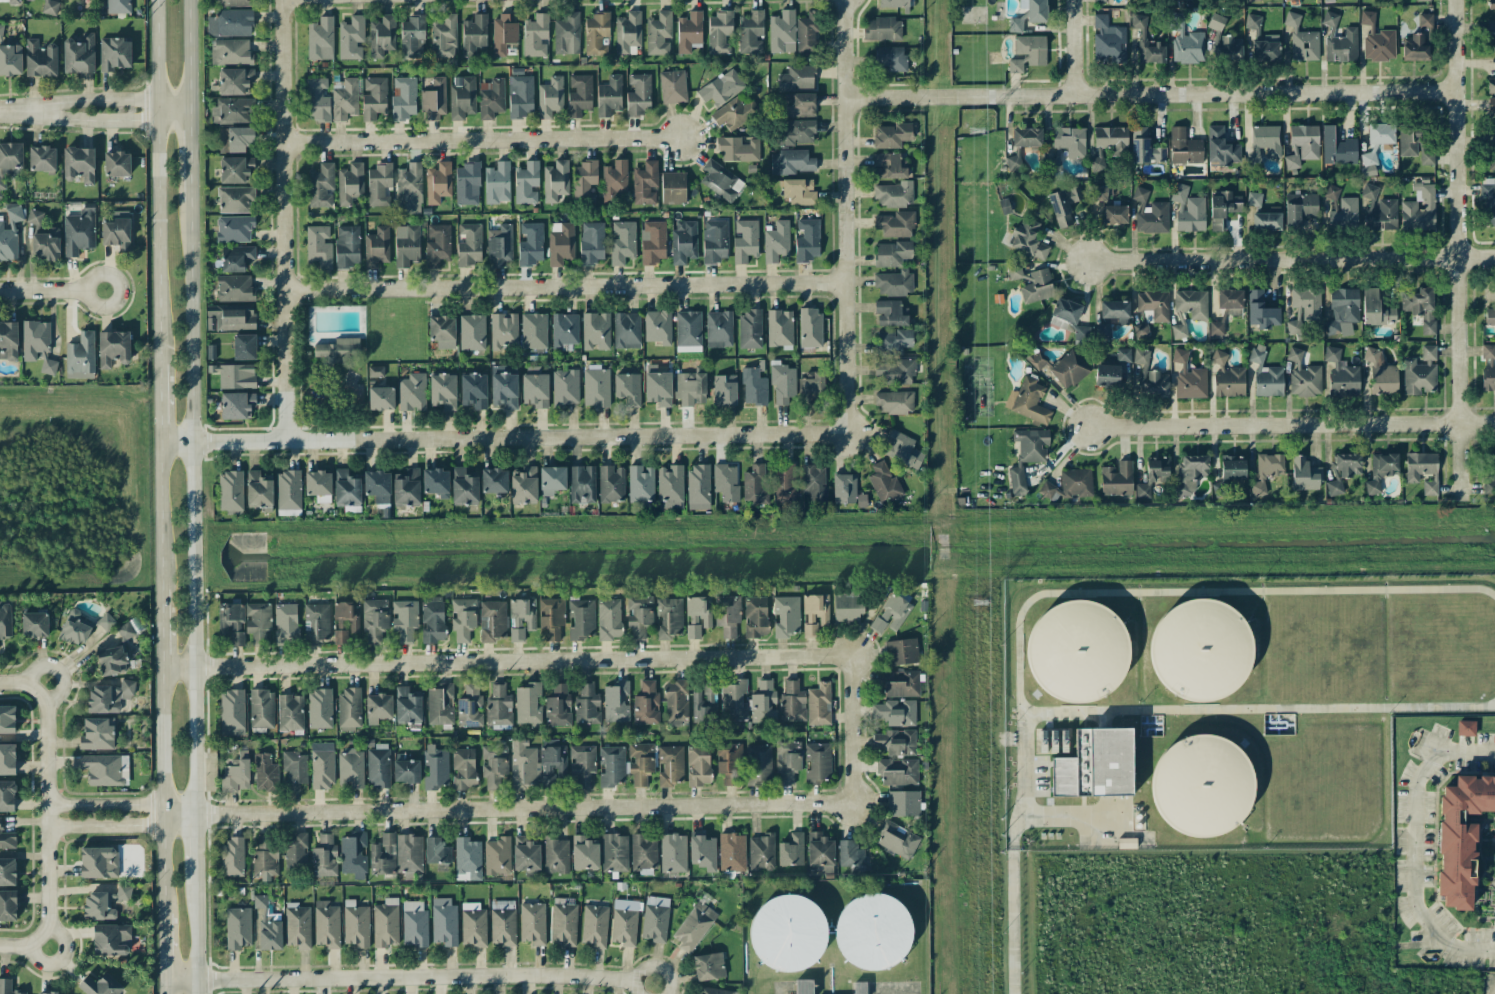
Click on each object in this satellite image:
building: (1099, 0)
building: (1174, 0)
building: (1423, 0)
building: (1252, 1)
building: (13, 2)
building: (231, 3)
building: (894, 3)
building: (1491, 4)
building: (118, 6)
building: (49, 7)
building: (1036, 11)
building: (1425, 20)
building: (1216, 21)
building: (1330, 21)
building: (1254, 22)
building: (230, 23)
building: (1015, 24)
building: (882, 29)
building: (1, 30)
building: (1491, 30)
building: (627, 32)
building: (689, 32)
building: (719, 32)
building: (751, 32)
building: (782, 32)
building: (503, 33)
building: (658, 33)
building: (473, 34)
building: (566, 34)
building: (596, 34)
building: (806, 35)
building: (381, 36)
building: (443, 36)
building: (535, 36)
building: (412, 37)
building: (351, 38)
building: (1107, 38)
building: (320, 39)
building: (1301, 40)
building: (1376, 40)
building: (1147, 43)
building: (1185, 43)
building: (1341, 46)
road: (1076, 47)
building: (1414, 47)
building: (1229, 48)
building: (1266, 48)
building: (230, 52)
building: (1027, 53)
building: (79, 54)
building: (114, 54)
building: (890, 58)
building: (10, 59)
building: (40, 59)
road: (188, 60)
building: (796, 78)
building: (235, 81)
building: (1491, 85)
building: (672, 86)
building: (721, 88)
road: (1151, 94)
building: (579, 95)
building: (638, 95)
building: (520, 96)
building: (609, 96)
building: (461, 97)
building: (550, 97)
building: (373, 98)
building: (403, 98)
building: (491, 98)
building: (316, 99)
building: (434, 99)
building: (344, 100)
road: (97, 101)
building: (799, 104)
building: (1491, 106)
road: (3, 111)
building: (231, 111)
building: (730, 114)
road: (97, 120)
power tower: (976, 132)
building: (798, 133)
building: (1380, 133)
building: (891, 135)
building: (1026, 137)
road: (482, 138)
building: (235, 139)
building: (1112, 139)
building: (1267, 139)
building: (1070, 141)
building: (1407, 142)
building: (1302, 145)
building: (1145, 147)
building: (1184, 147)
building: (1221, 147)
building: (1337, 147)
building: (738, 149)
building: (1426, 154)
building: (42, 158)
road: (189, 160)
building: (10, 161)
building: (792, 162)
building: (1013, 162)
building: (1491, 162)
building: (1367, 163)
building: (79, 164)
building: (116, 164)
building: (1254, 164)
building: (890, 166)
building: (236, 169)
building: (614, 179)
building: (718, 180)
building: (555, 181)
building: (584, 181)
road: (157, 182)
building: (438, 182)
building: (349, 183)
building: (497, 183)
building: (526, 183)
building: (645, 183)
building: (378, 184)
building: (467, 184)
building: (320, 185)
building: (673, 188)
building: (409, 189)
building: (799, 191)
building: (1099, 193)
building: (1369, 193)
building: (894, 194)
building: (236, 199)
building: (1253, 199)
building: (1488, 200)
building: (1064, 204)
building: (1299, 208)
building: (1419, 208)
building: (1188, 209)
building: (1222, 209)
building: (1340, 209)
building: (1150, 213)
building: (1114, 214)
building: (1382, 216)
road: (846, 217)
building: (35, 219)
road: (288, 219)
building: (1266, 221)
building: (234, 228)
building: (78, 232)
building: (116, 233)
building: (1027, 239)
building: (714, 240)
building: (745, 240)
building: (807, 240)
building: (776, 241)
building: (591, 242)
building: (622, 242)
building: (653, 242)
building: (683, 242)
building: (7, 243)
building: (560, 243)
building: (46, 244)
building: (530, 244)
building: (437, 245)
building: (469, 245)
building: (500, 245)
building: (318, 246)
building: (347, 246)
building: (406, 246)
building: (376, 247)
road: (1457, 252)
building: (892, 253)
building: (236, 257)
road: (1291, 263)
building: (894, 283)
building: (1030, 283)
road: (568, 286)
building: (233, 288)
road: (51, 291)
building: (1191, 303)
building: (1153, 306)
building: (1420, 306)
building: (1303, 309)
building: (1342, 309)
building: (1375, 309)
building: (1115, 311)
building: (1261, 311)
building: (890, 313)
building: (1064, 313)
building: (1490, 317)
building: (229, 319)
building: (657, 327)
building: (779, 327)
building: (809, 328)
building: (718, 329)
building: (750, 329)
building: (534, 330)
building: (626, 330)
building: (688, 330)
building: (1140, 330)
building: (1216, 330)
building: (442, 331)
building: (503, 331)
building: (564, 331)
building: (595, 331)
building: (1102, 331)
building: (1179, 331)
building: (471, 332)
building: (8, 340)
building: (893, 341)
building: (37, 345)
building: (244, 346)
building: (113, 348)
building: (336, 350)
building: (1123, 354)
building: (80, 356)
building: (1141, 356)
building: (1061, 367)
building: (1488, 367)
building: (655, 368)
building: (895, 371)
building: (1420, 372)
building: (1107, 373)
building: (1381, 373)
building: (1265, 374)
building: (1342, 374)
building: (236, 376)
building: (1303, 376)
building: (1188, 377)
building: (1227, 377)
building: (811, 383)
building: (1155, 383)
building: (782, 384)
building: (503, 386)
building: (565, 387)
building: (753, 387)
building: (535, 388)
building: (627, 388)
building: (658, 388)
building: (689, 388)
building: (473, 390)
building: (724, 390)
building: (443, 391)
building: (412, 392)
building: (381, 398)
building: (1027, 401)
building: (894, 402)
road: (159, 405)
building: (237, 405)
road: (1293, 425)
road: (503, 438)
building: (1031, 444)
building: (904, 449)
building: (1346, 465)
building: (1420, 466)
building: (1233, 467)
building: (1157, 470)
building: (1381, 470)
building: (1266, 471)
building: (1190, 473)
building: (1304, 474)
building: (1489, 474)
building: (1116, 478)
building: (1016, 479)
building: (494, 480)
building: (551, 480)
building: (435, 481)
building: (814, 481)
building: (726, 482)
building: (317, 483)
building: (784, 483)
building: (884, 483)
building: (1070, 483)
building: (582, 484)
building: (611, 484)
building: (640, 484)
building: (755, 484)
building: (523, 485)
building: (377, 486)
building: (464, 486)
building: (698, 486)
building: (670, 487)
building: (1334, 487)
building: (1430, 487)
building: (346, 488)
building: (406, 488)
building: (258, 489)
building: (230, 490)
building: (847, 490)
building: (1141, 490)
building: (288, 491)
road: (193, 506)
road: (160, 516)
road: (1135, 592)
power tower: (977, 604)
building: (848, 608)
building: (814, 613)
building: (891, 613)
building: (727, 614)
building: (638, 615)
building: (697, 615)
building: (755, 616)
building: (785, 616)
building: (551, 617)
building: (463, 618)
building: (521, 618)
building: (668, 618)
building: (5, 619)
building: (374, 619)
building: (404, 619)
building: (432, 619)
building: (580, 619)
building: (608, 619)
building: (345, 620)
building: (492, 620)
building: (105, 622)
building: (231, 622)
building: (257, 622)
building: (316, 623)
building: (34, 624)
building: (285, 624)
road: (161, 627)
building: (75, 628)
building: (128, 628)
building: (1196, 648)
building: (901, 651)
building: (1077, 651)
building: (112, 661)
road: (505, 662)
road: (23, 680)
building: (900, 683)
building: (109, 696)
building: (704, 698)
building: (676, 700)
building: (733, 700)
building: (616, 702)
building: (763, 702)
building: (792, 702)
building: (645, 703)
building: (440, 704)
building: (528, 704)
building: (819, 704)
building: (407, 705)
building: (586, 705)
building: (470, 706)
building: (498, 706)
building: (558, 706)
building: (378, 707)
building: (261, 708)
building: (319, 708)
building: (349, 708)
road: (1257, 710)
building: (232, 712)
building: (290, 712)
building: (895, 712)
building: (7, 719)
building: (1465, 728)
road: (851, 731)
building: (97, 734)
road: (161, 736)
building: (896, 742)
building: (7, 759)
building: (552, 760)
building: (787, 761)
building: (728, 762)
building: (640, 763)
building: (817, 763)
building: (523, 764)
building: (582, 764)
building: (759, 764)
building: (1095, 764)
building: (698, 765)
building: (378, 766)
building: (611, 766)
building: (670, 766)
building: (322, 767)
building: (463, 768)
building: (295, 769)
building: (350, 769)
building: (436, 769)
building: (406, 771)
building: (897, 771)
building: (264, 772)
building: (493, 772)
building: (236, 773)
building: (6, 796)
building: (903, 803)
road: (105, 804)
road: (179, 810)
road: (524, 810)
road: (48, 812)
road: (163, 817)
road: (180, 822)
road: (106, 829)
building: (1460, 836)
building: (7, 839)
building: (897, 839)
road: (1414, 847)
road: (196, 849)
building: (820, 849)
building: (791, 850)
building: (436, 851)
building: (643, 851)
building: (702, 852)
building: (731, 852)
building: (761, 852)
building: (408, 853)
building: (584, 853)
building: (614, 853)
building: (673, 853)
building: (295, 854)
building: (353, 854)
building: (383, 855)
building: (526, 855)
building: (851, 855)
building: (496, 856)
building: (555, 856)
building: (232, 857)
building: (324, 857)
building: (265, 858)
building: (467, 859)
building: (98, 862)
building: (7, 871)
road: (164, 871)
building: (104, 903)
building: (7, 905)
building: (655, 918)
building: (444, 922)
building: (564, 922)
building: (624, 922)
road: (1013, 922)
building: (385, 923)
building: (532, 923)
building: (326, 924)
building: (355, 924)
building: (414, 924)
building: (267, 925)
building: (473, 925)
building: (297, 926)
building: (594, 926)
building: (694, 926)
building: (238, 928)
building: (872, 931)
building: (788, 933)
building: (111, 939)
road: (196, 939)
road: (23, 945)
road: (165, 947)
building: (708, 966)
road: (409, 978)
road: (1492, 982)
building: (100, 985)
building: (803, 986)
building: (7, 987)
building: (859, 987)
road: (165, 988)
road: (1489, 988)
building: (712, 991)
building: (49, 993)

